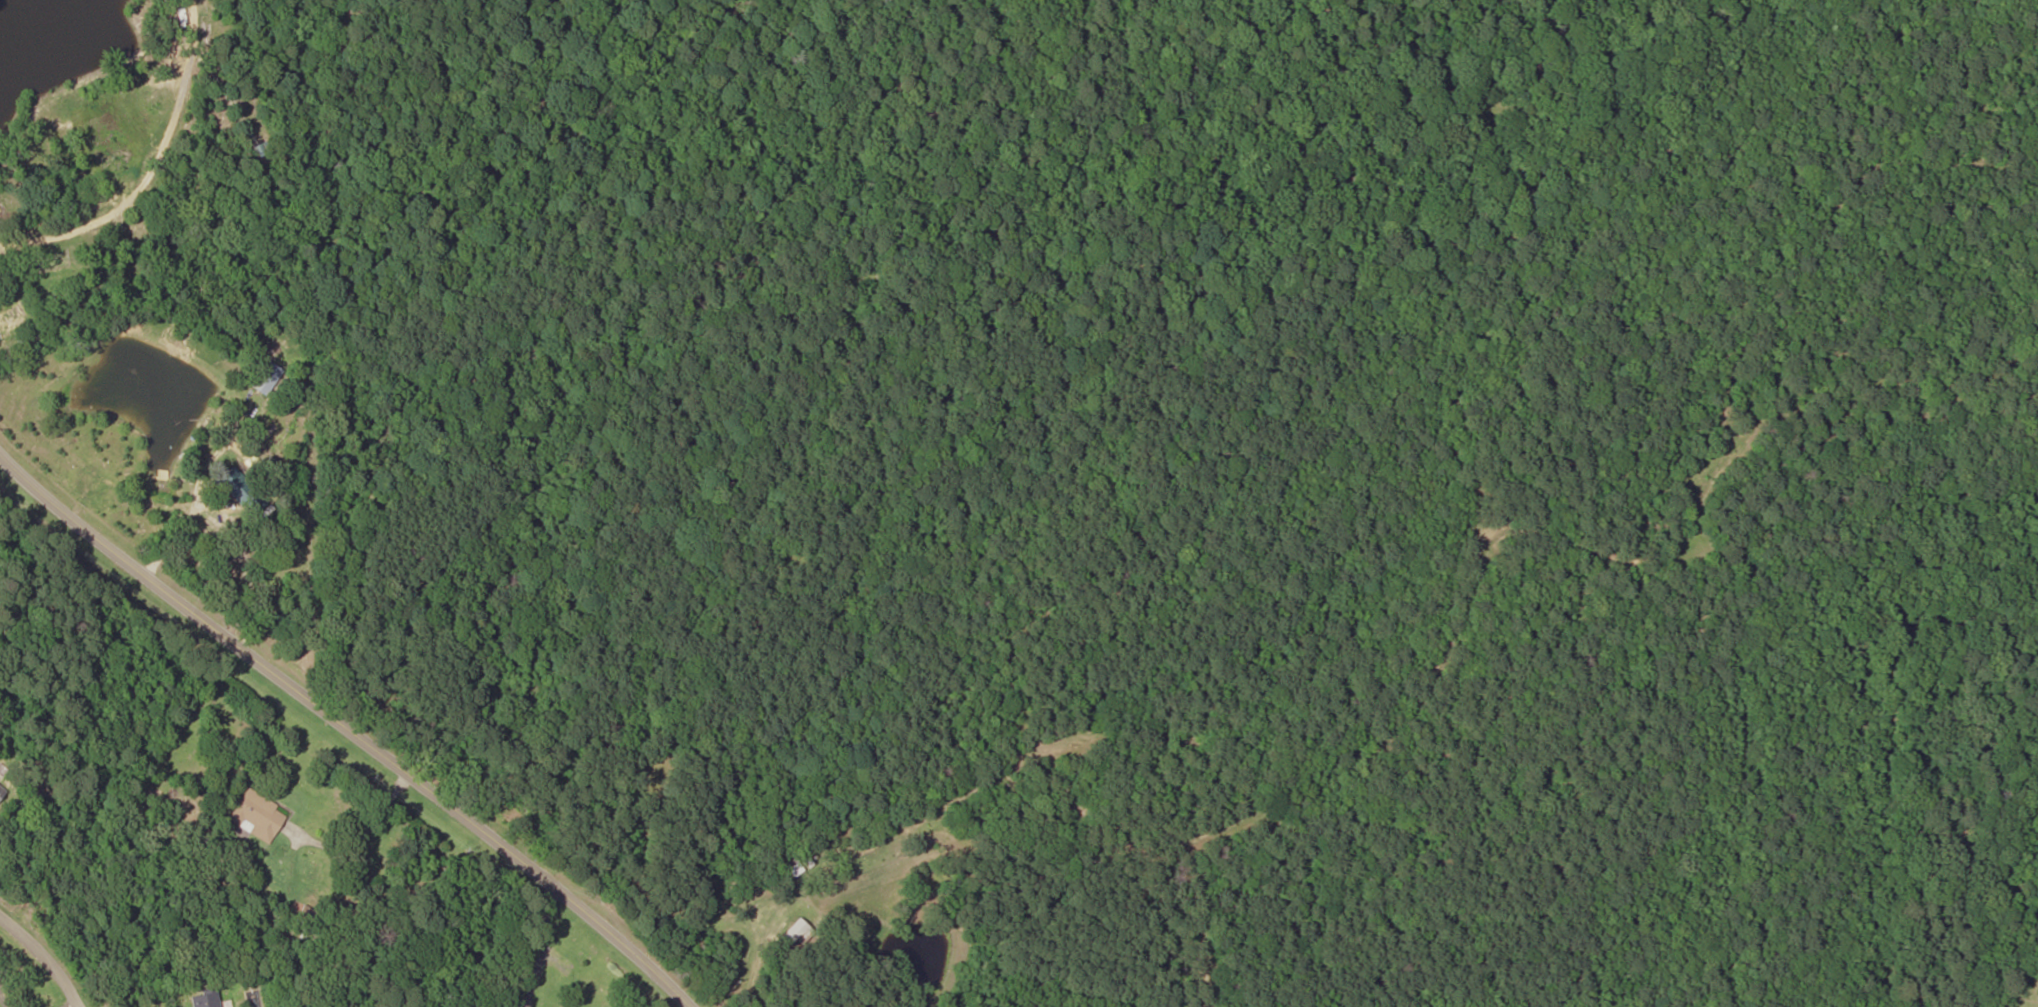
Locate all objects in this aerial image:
building: (9, 321)
building: (265, 378)
building: (239, 490)
road: (345, 729)
building: (1, 792)
building: (254, 815)
road: (42, 954)
building: (203, 998)

